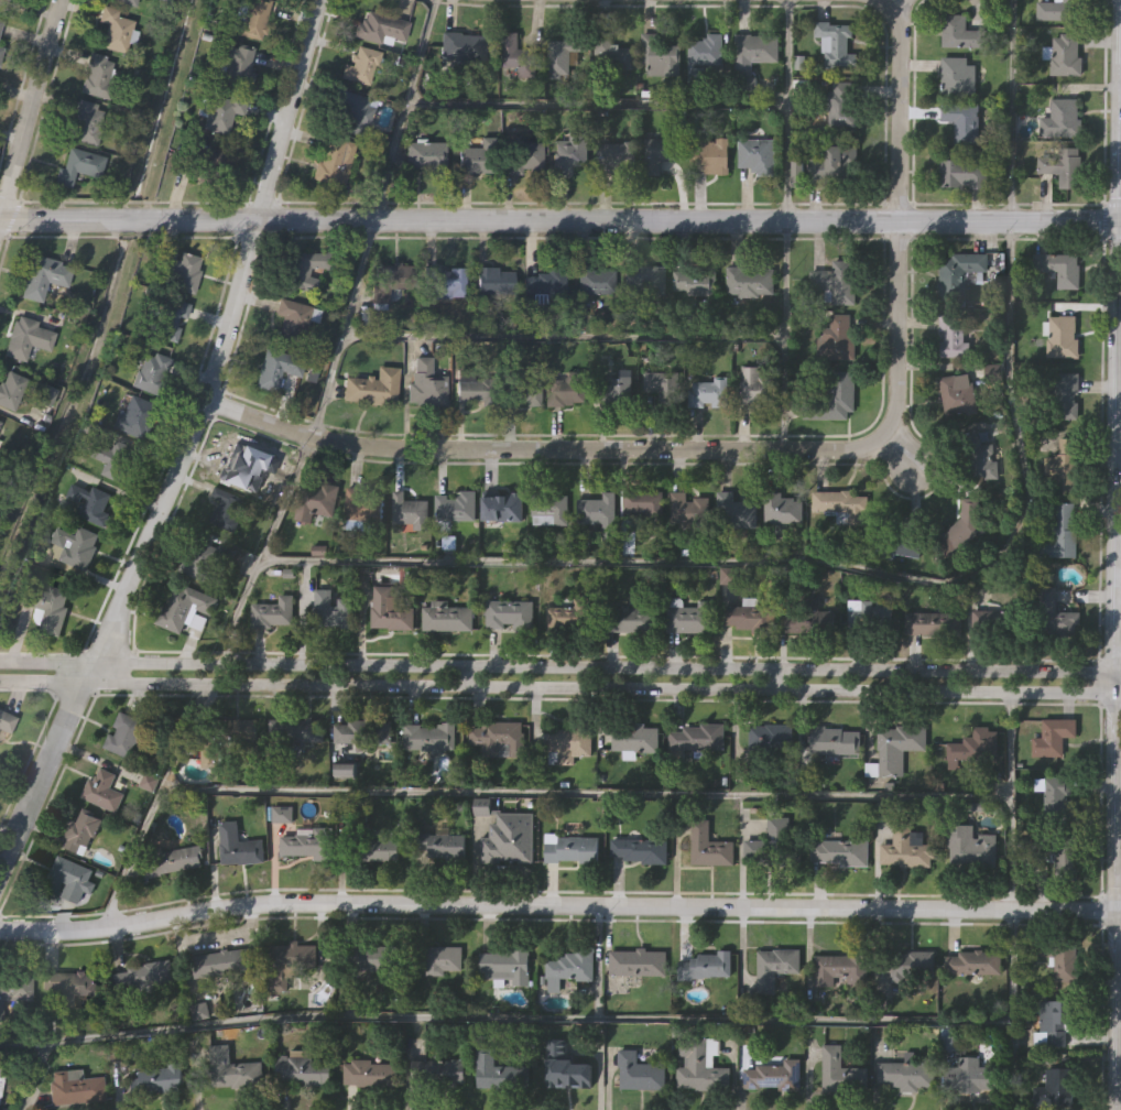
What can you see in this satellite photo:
building: (12, 0)
building: (128, 1)
road: (888, 1)
building: (1058, 10)
building: (249, 18)
building: (0, 22)
building: (379, 28)
building: (113, 30)
building: (959, 31)
building: (834, 43)
building: (462, 48)
building: (1, 51)
building: (753, 51)
road: (1118, 52)
building: (564, 53)
building: (516, 54)
building: (611, 55)
building: (703, 55)
building: (660, 56)
building: (1063, 56)
building: (360, 64)
building: (239, 65)
building: (96, 76)
building: (957, 77)
building: (839, 101)
road: (596, 104)
road: (403, 109)
building: (218, 110)
building: (355, 110)
road: (786, 110)
road: (1009, 110)
road: (31, 111)
building: (961, 120)
building: (1060, 120)
building: (84, 122)
road: (11, 138)
building: (569, 152)
building: (661, 152)
building: (709, 154)
building: (206, 155)
building: (523, 155)
building: (618, 155)
building: (755, 155)
building: (426, 156)
building: (477, 156)
building: (334, 162)
road: (1118, 162)
building: (78, 165)
building: (829, 166)
building: (1063, 168)
building: (962, 173)
building: (797, 174)
road: (899, 216)
road: (559, 219)
building: (309, 266)
building: (1059, 268)
building: (183, 270)
building: (960, 273)
building: (45, 275)
building: (644, 279)
building: (698, 279)
building: (391, 280)
building: (446, 280)
building: (494, 280)
building: (596, 280)
building: (750, 280)
building: (837, 281)
building: (546, 284)
building: (295, 317)
building: (168, 318)
road: (341, 327)
road: (226, 335)
road: (783, 335)
building: (954, 335)
building: (1063, 335)
building: (28, 336)
road: (560, 336)
building: (839, 336)
building: (277, 368)
building: (152, 371)
building: (427, 381)
building: (661, 382)
building: (373, 387)
building: (757, 387)
building: (568, 388)
building: (12, 390)
building: (475, 390)
building: (616, 390)
road: (1115, 390)
building: (523, 391)
building: (710, 391)
building: (44, 392)
building: (959, 393)
building: (834, 396)
building: (1065, 396)
road: (1012, 412)
building: (135, 416)
building: (0, 421)
road: (545, 449)
building: (980, 456)
building: (115, 457)
building: (1066, 463)
building: (243, 464)
building: (319, 497)
building: (644, 502)
building: (91, 503)
building: (841, 503)
building: (362, 505)
building: (457, 505)
building: (552, 505)
building: (227, 508)
building: (502, 508)
building: (689, 508)
building: (783, 508)
building: (409, 510)
building: (600, 511)
building: (737, 511)
building: (962, 526)
building: (1062, 532)
building: (899, 543)
building: (76, 544)
road: (262, 546)
building: (206, 559)
road: (613, 562)
building: (47, 603)
building: (184, 607)
building: (334, 608)
building: (392, 608)
building: (273, 611)
building: (1053, 611)
building: (510, 613)
building: (870, 614)
building: (448, 616)
building: (689, 616)
building: (752, 616)
road: (1112, 616)
building: (568, 617)
building: (810, 617)
building: (629, 618)
building: (1004, 618)
building: (935, 622)
road: (555, 664)
road: (1117, 672)
road: (467, 676)
road: (775, 679)
road: (1112, 683)
road: (555, 689)
road: (1117, 694)
building: (7, 721)
building: (295, 731)
building: (363, 731)
building: (126, 733)
building: (431, 736)
building: (500, 737)
building: (635, 738)
building: (697, 738)
building: (1053, 738)
building: (834, 739)
building: (227, 740)
building: (572, 741)
building: (768, 742)
road: (1113, 743)
building: (896, 748)
building: (972, 748)
road: (46, 763)
building: (104, 788)
road: (586, 794)
building: (1057, 796)
road: (1009, 802)
road: (154, 807)
building: (282, 813)
building: (83, 828)
building: (509, 837)
building: (442, 840)
building: (312, 841)
building: (373, 844)
building: (239, 845)
building: (774, 846)
building: (906, 846)
building: (968, 846)
building: (570, 847)
building: (640, 848)
building: (709, 848)
building: (840, 851)
road: (1117, 851)
building: (1056, 855)
building: (173, 859)
building: (70, 878)
road: (558, 904)
road: (1120, 912)
building: (370, 955)
building: (1058, 955)
building: (439, 956)
building: (638, 960)
road: (1118, 960)
building: (221, 961)
building: (291, 961)
road: (599, 962)
building: (907, 962)
building: (973, 962)
building: (569, 966)
building: (705, 966)
building: (776, 966)
building: (507, 967)
building: (842, 967)
building: (146, 975)
building: (70, 983)
building: (14, 988)
road: (1010, 1010)
road: (503, 1018)
building: (1056, 1019)
building: (951, 1044)
road: (1115, 1059)
building: (233, 1067)
building: (301, 1067)
building: (565, 1068)
building: (698, 1068)
building: (440, 1069)
building: (498, 1070)
building: (839, 1070)
building: (368, 1071)
building: (639, 1071)
building: (4, 1073)
building: (906, 1075)
road: (36, 1076)
building: (972, 1076)
building: (773, 1077)
building: (157, 1078)
building: (77, 1086)
building: (1056, 1088)

